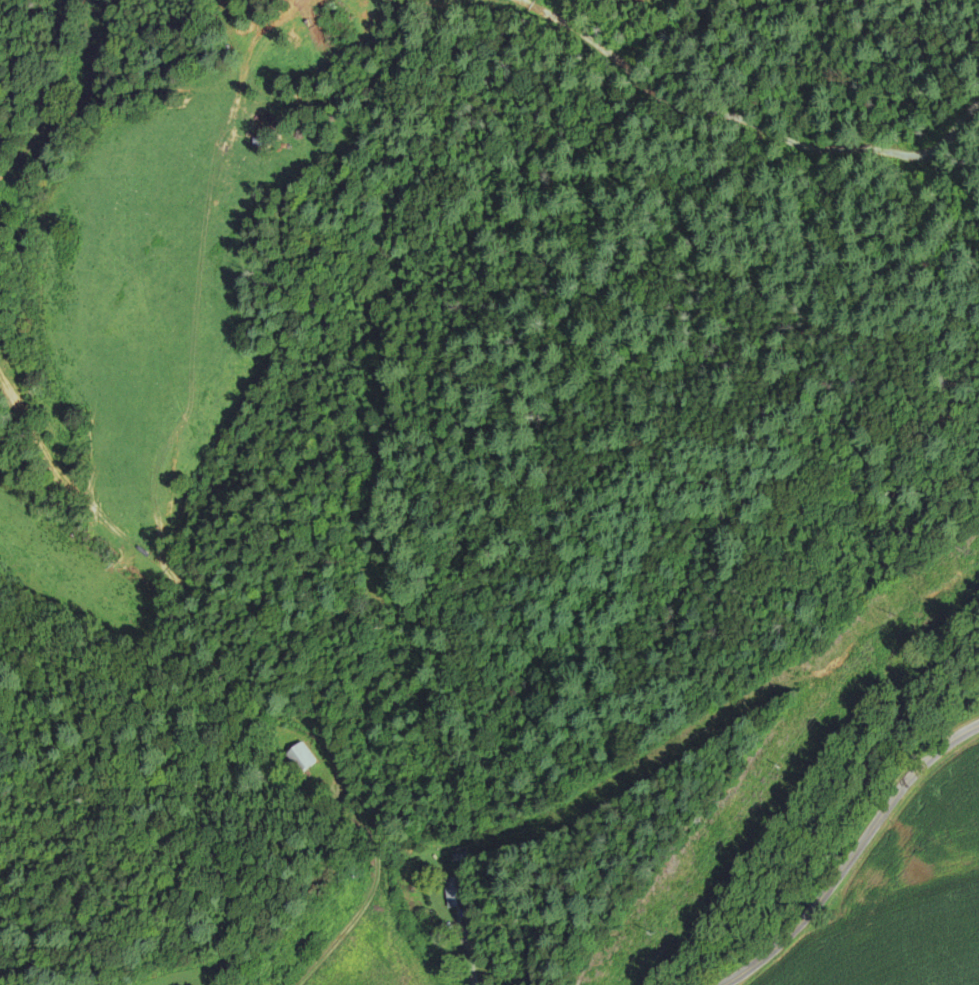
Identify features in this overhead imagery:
building: (296, 758)
road: (852, 856)
road: (377, 860)
building: (453, 893)
road: (467, 948)

